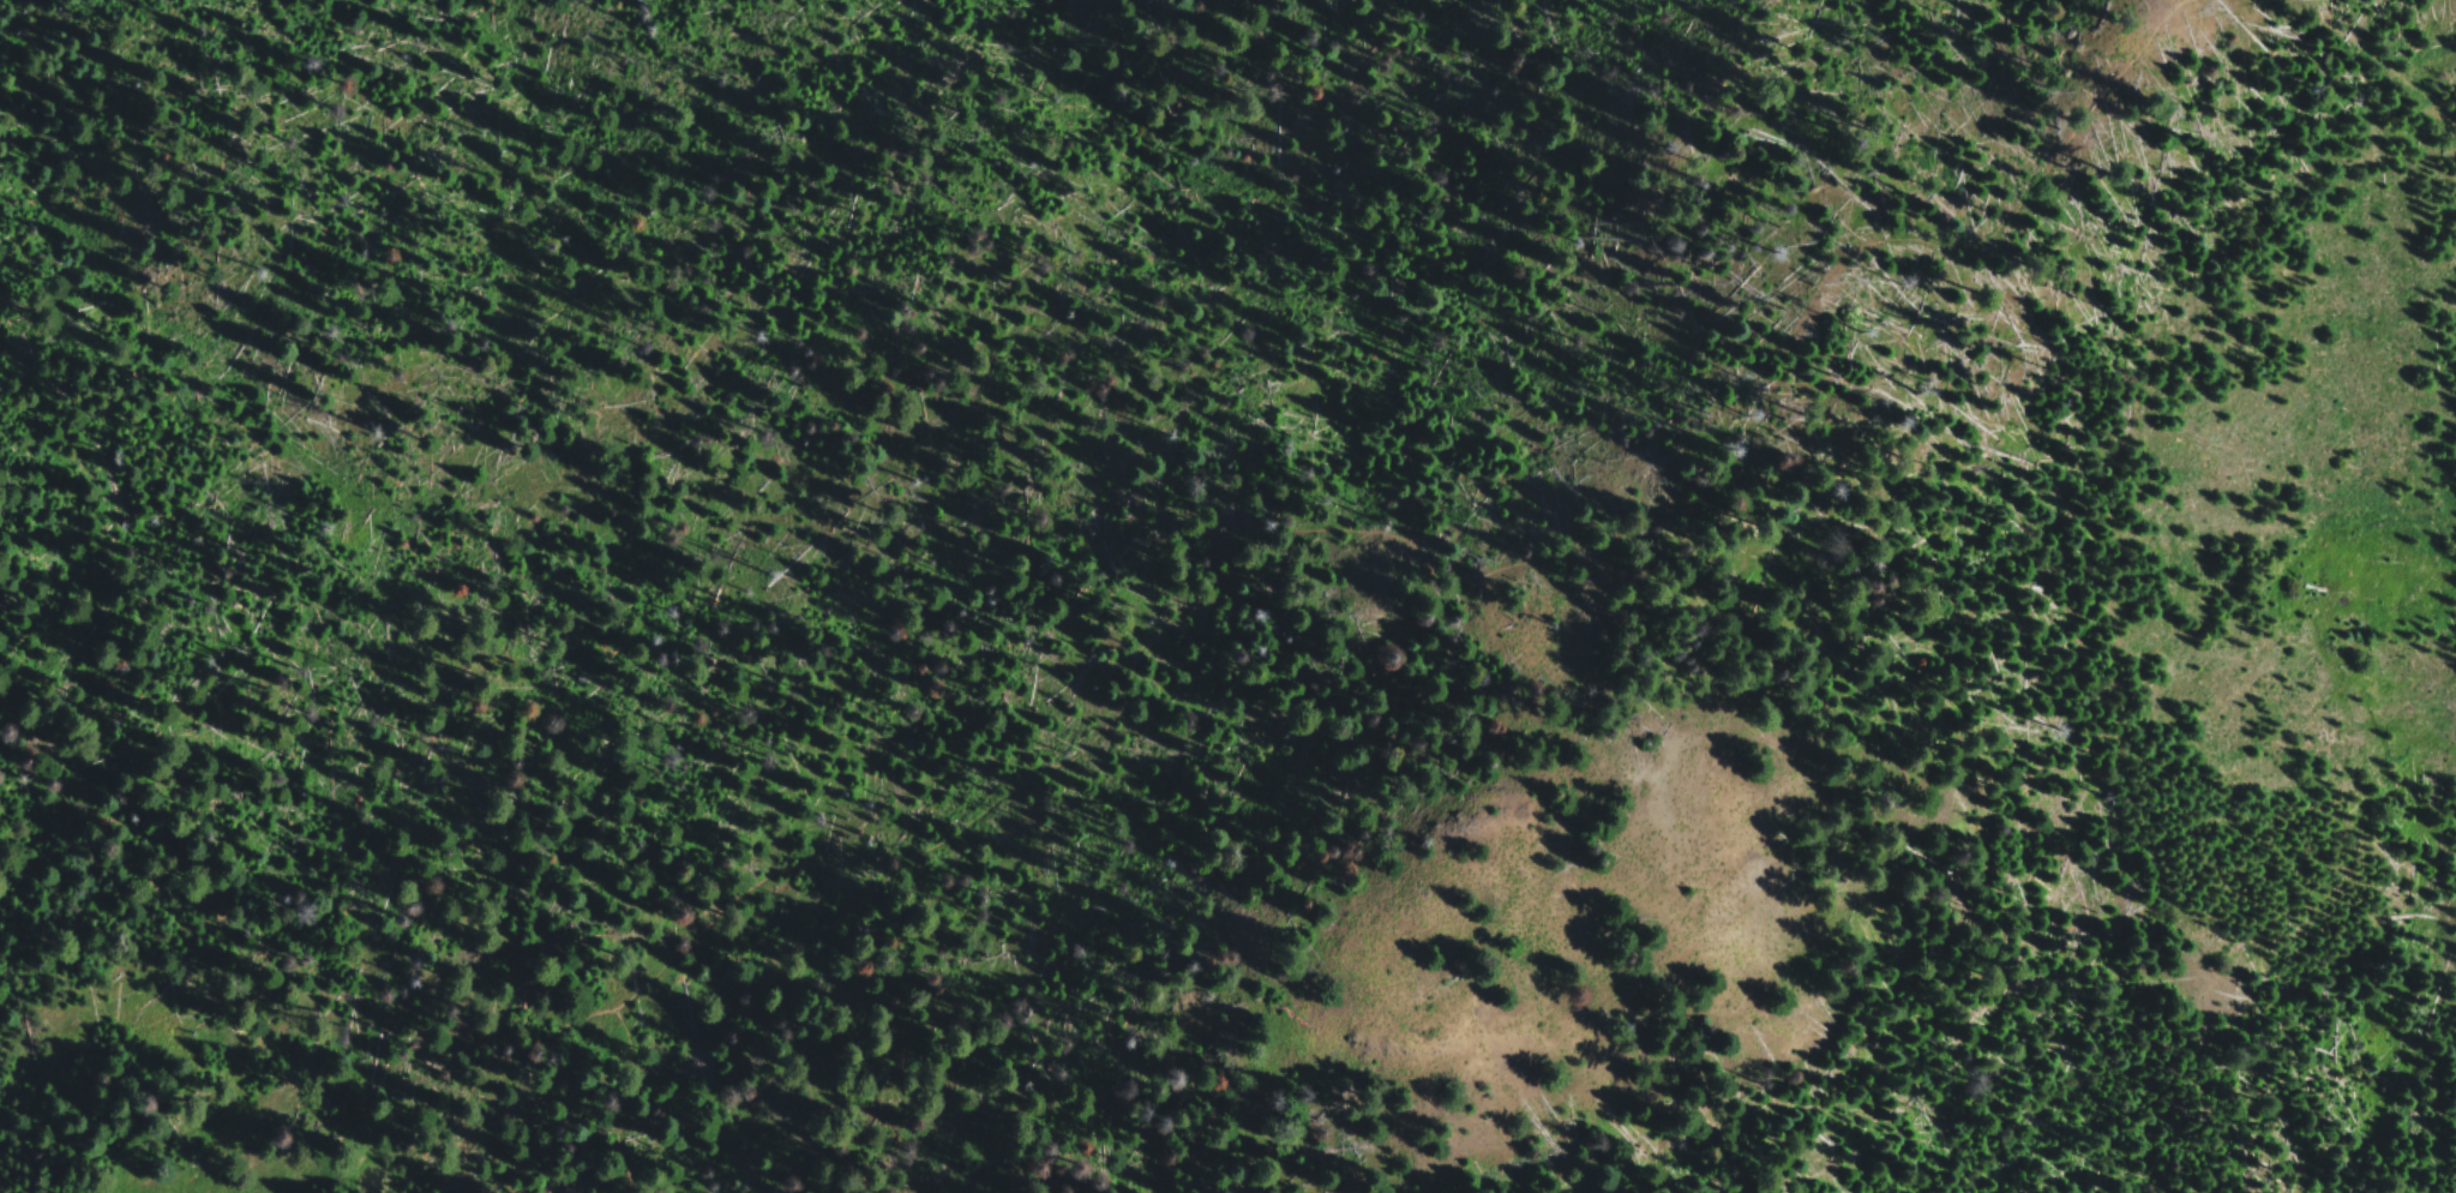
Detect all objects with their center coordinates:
road: (1322, 533)
road: (627, 1092)

